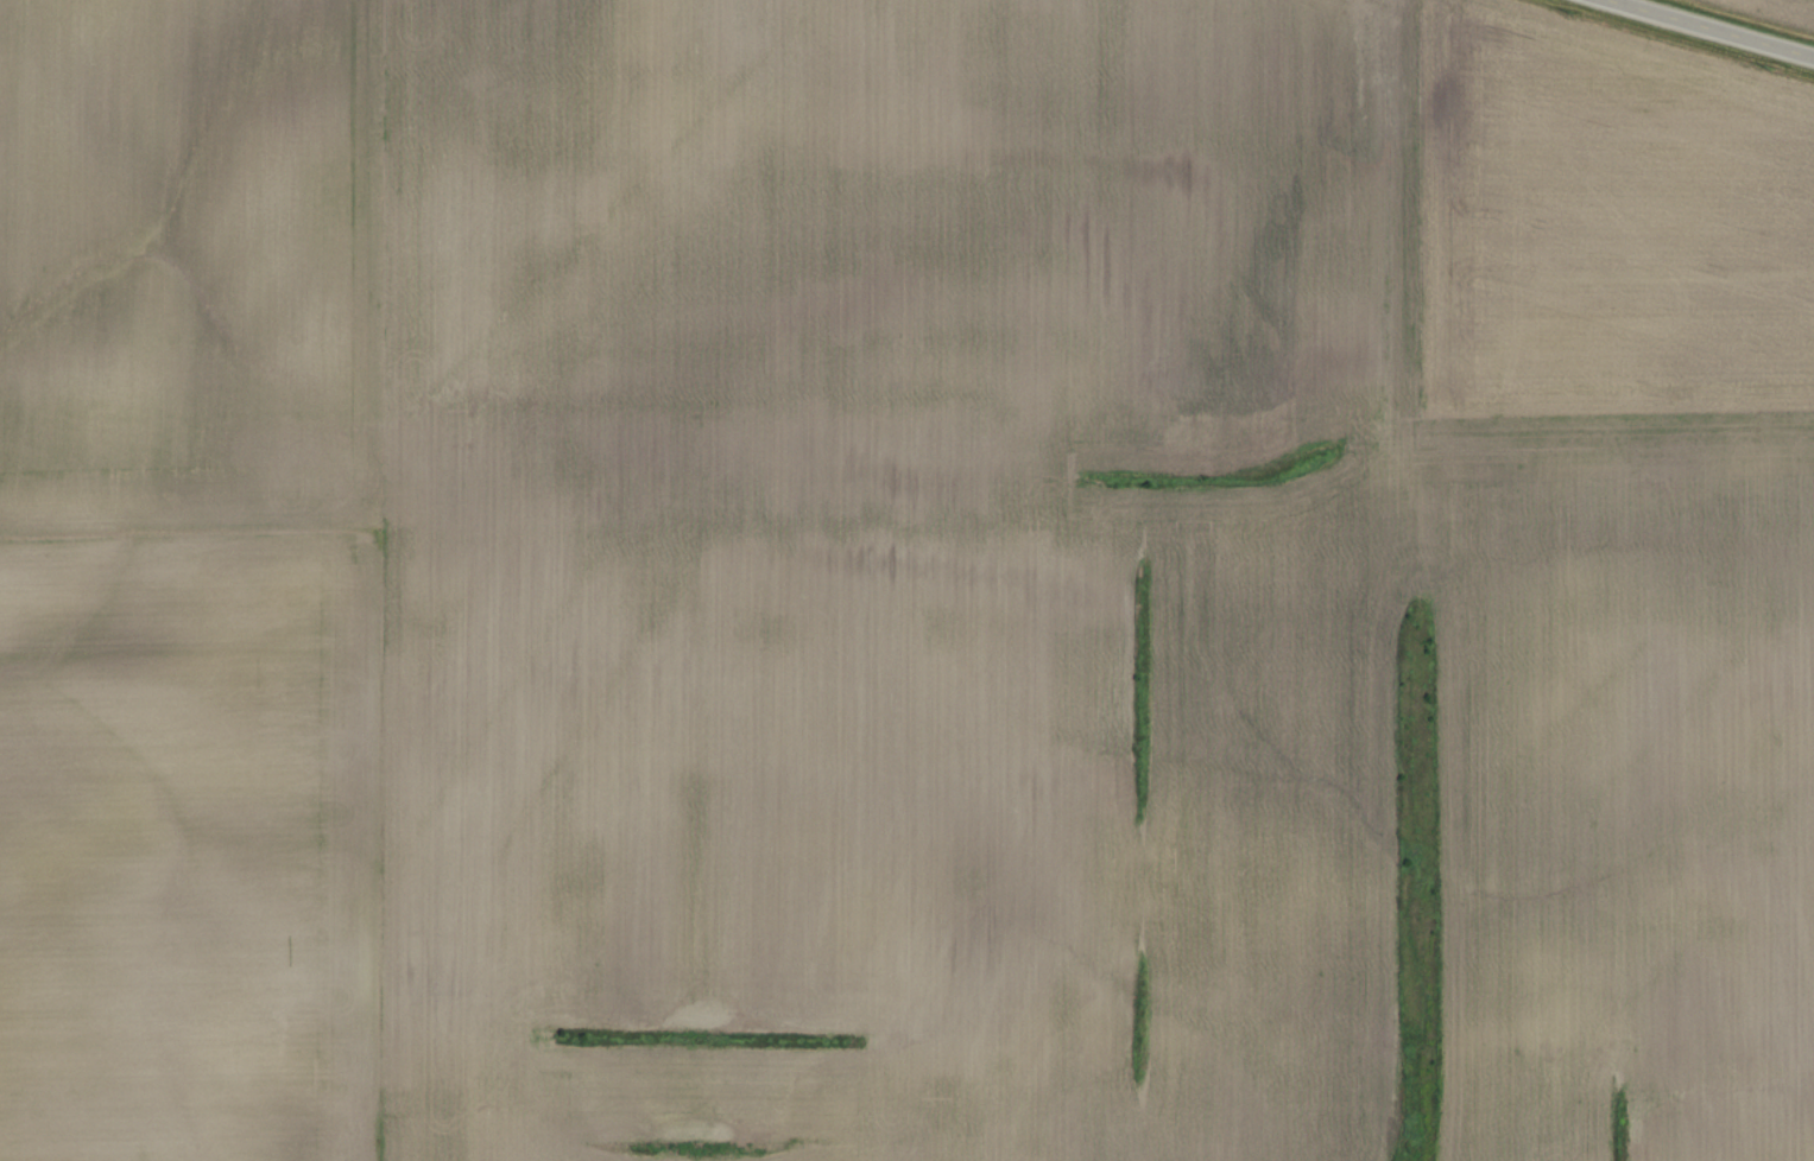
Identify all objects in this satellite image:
crop: (1777, 9)
road: (1709, 30)
crop: (896, 579)

